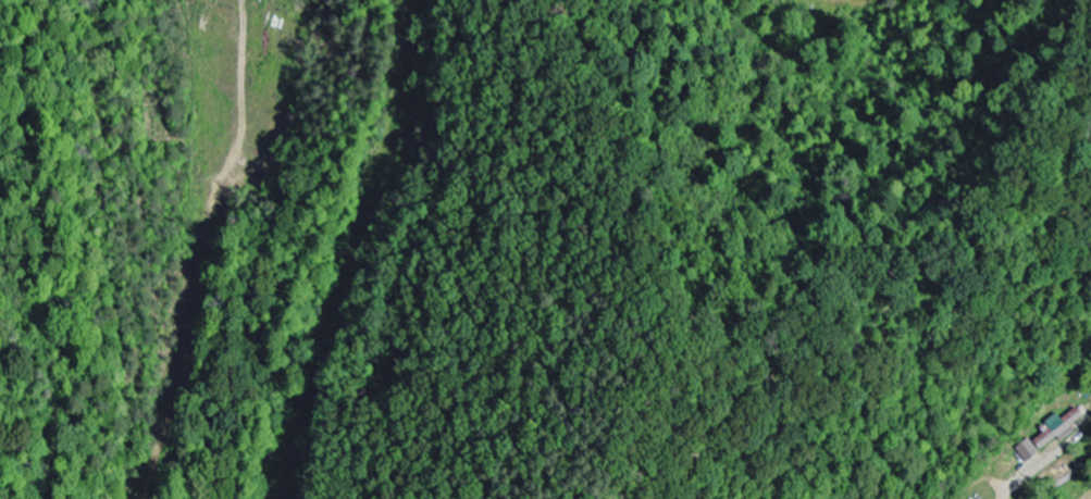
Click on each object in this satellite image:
building: (1049, 434)

